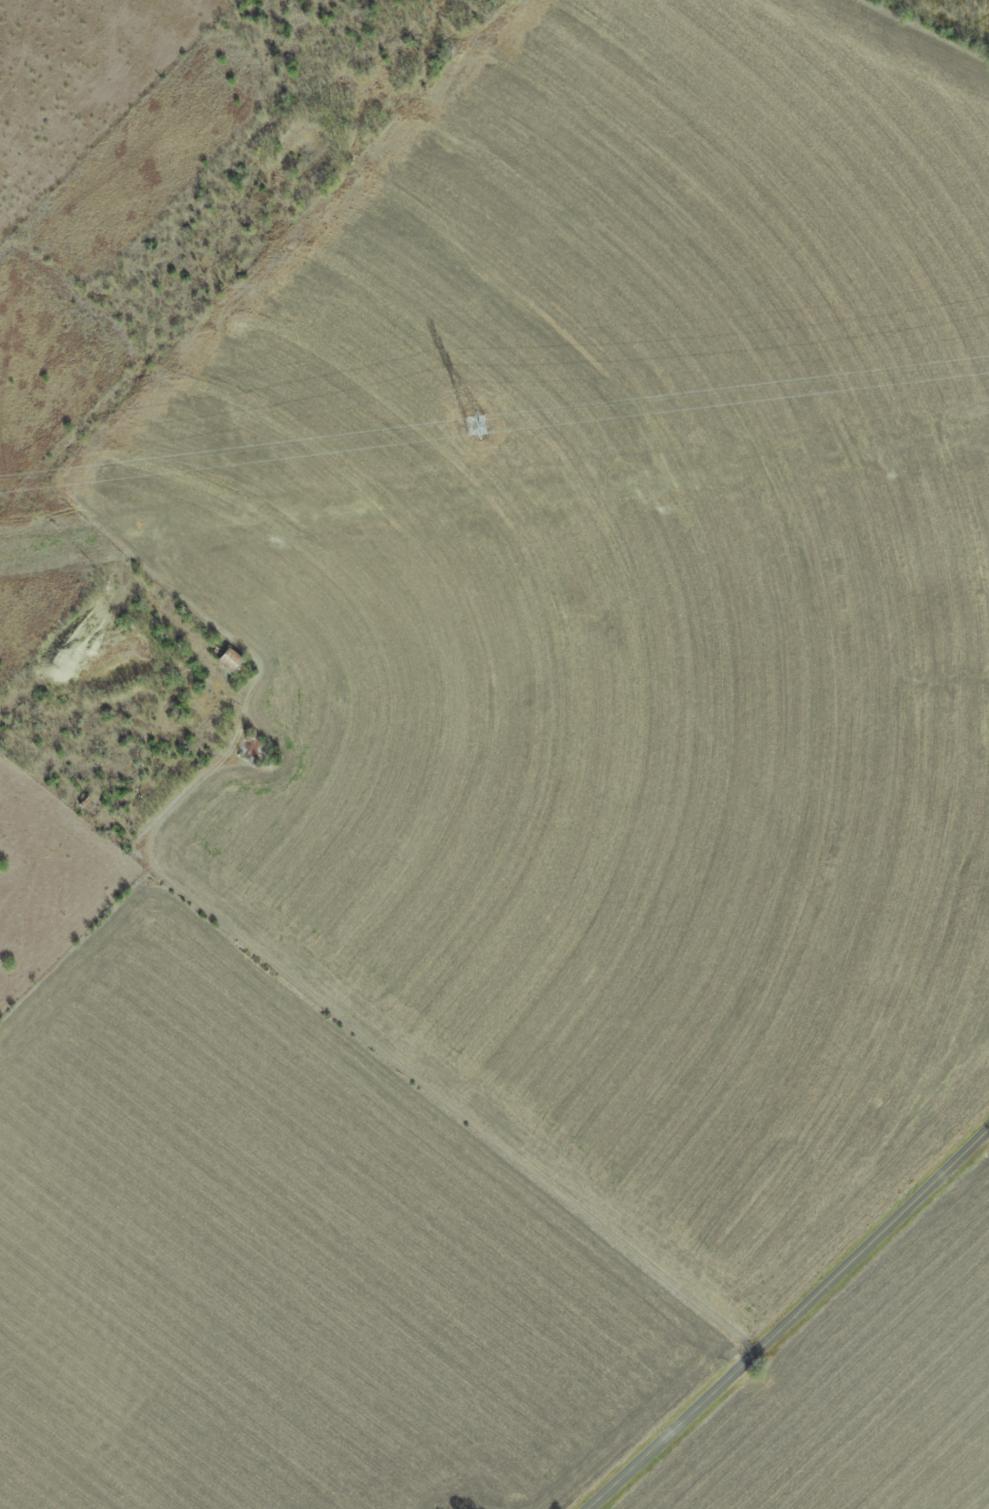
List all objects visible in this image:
power tower: (475, 425)
road: (379, 1059)
road: (790, 1320)

